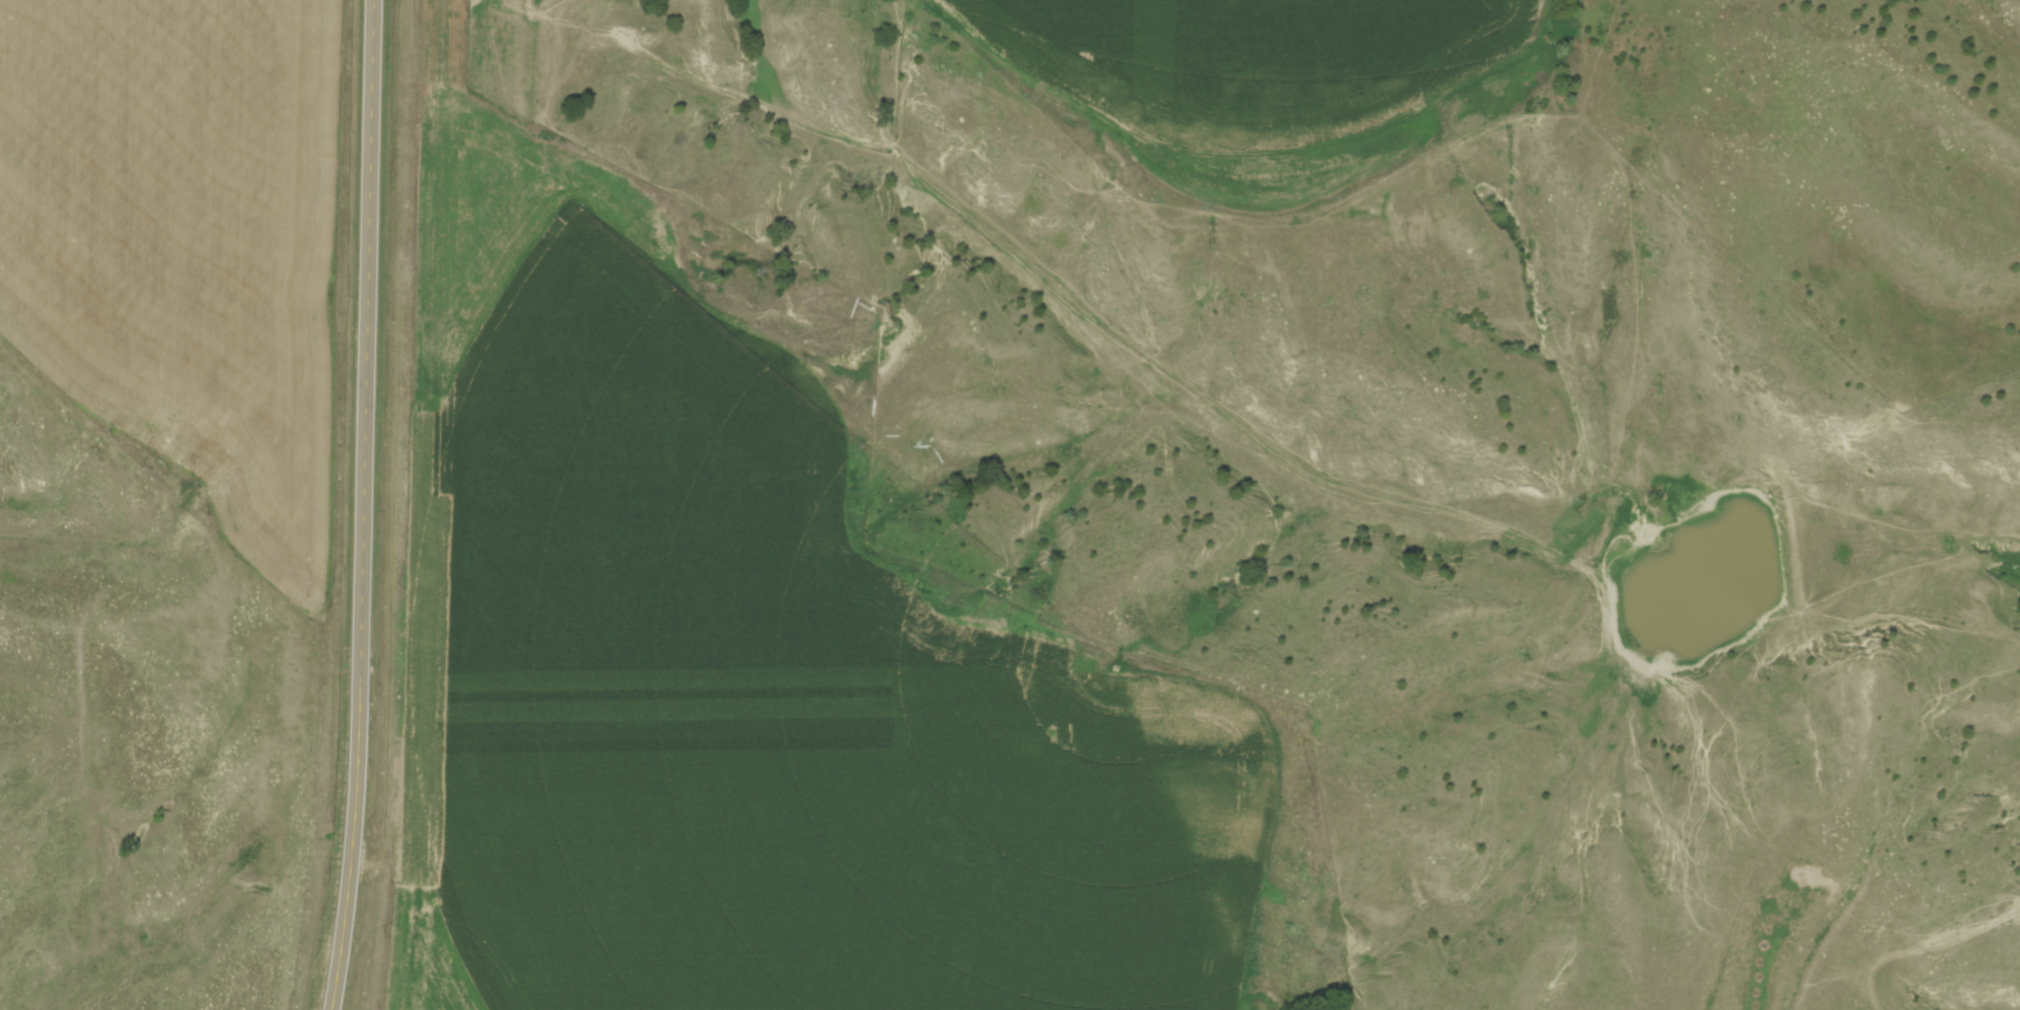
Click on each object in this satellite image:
crop: (1551, 3)
crop: (1255, 48)
building: (462, 74)
crop: (185, 237)
road: (368, 505)

